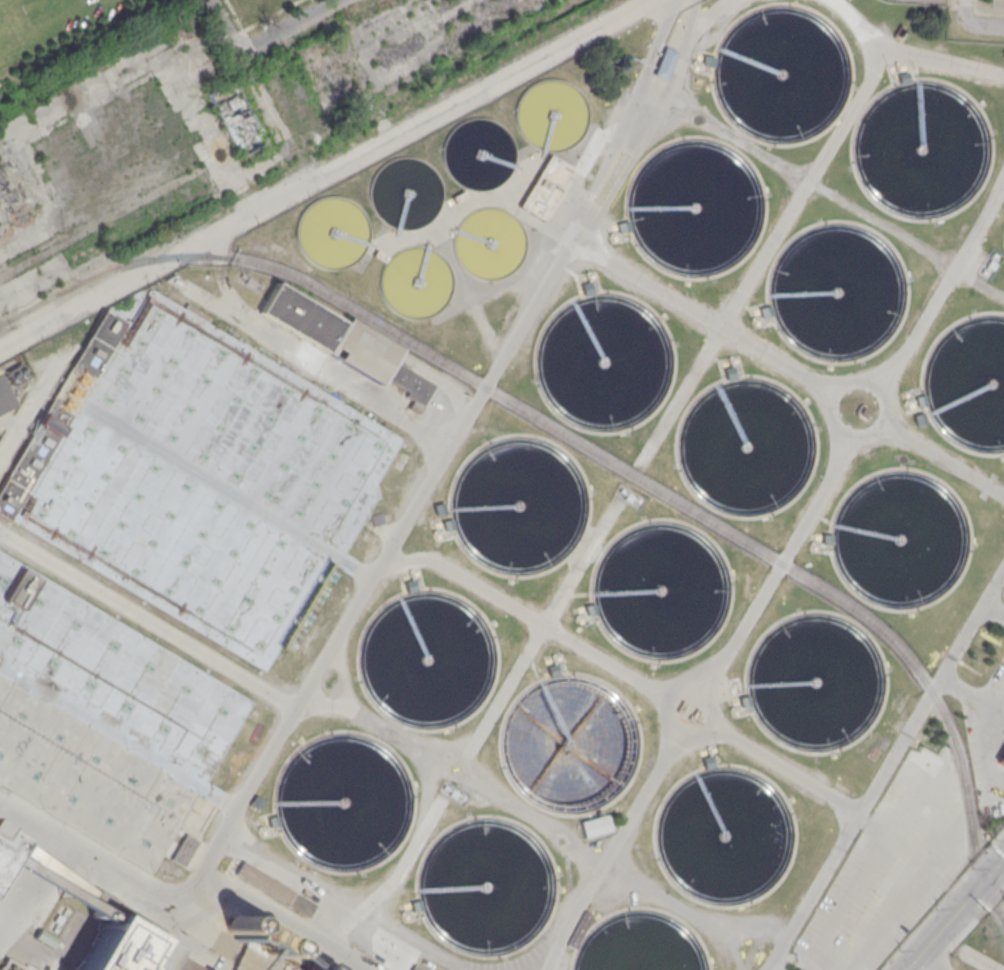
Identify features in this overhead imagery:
road: (962, 9)
road: (708, 18)
road: (983, 26)
road: (292, 28)
park: (8, 33)
park: (66, 34)
road: (909, 52)
building: (664, 63)
road: (250, 75)
road: (479, 92)
building: (236, 118)
building: (950, 156)
building: (544, 186)
road: (764, 259)
road: (152, 263)
road: (945, 286)
building: (299, 316)
building: (854, 321)
building: (377, 361)
road: (798, 374)
building: (2, 399)
building: (57, 411)
road: (451, 444)
railway: (593, 452)
building: (204, 478)
wastewater plant: (204, 478)
power substation: (629, 495)
wastewater plant: (536, 535)
building: (825, 539)
building: (903, 545)
road: (788, 552)
road: (628, 674)
building: (735, 685)
road: (932, 694)
building: (455, 701)
road: (494, 712)
building: (101, 718)
wastewater plant: (101, 718)
parking lot: (987, 742)
building: (1001, 758)
building: (595, 826)
road: (623, 832)
building: (182, 849)
parking lot: (890, 868)
building: (747, 881)
building: (274, 889)
building: (72, 891)
road: (815, 892)
road: (323, 898)
road: (954, 914)
building: (578, 929)
road: (968, 930)
building: (253, 941)
wastewater plant: (982, 945)
road: (926, 962)
building: (12, 964)
building: (414, 967)
building: (311, 968)
building: (325, 969)

